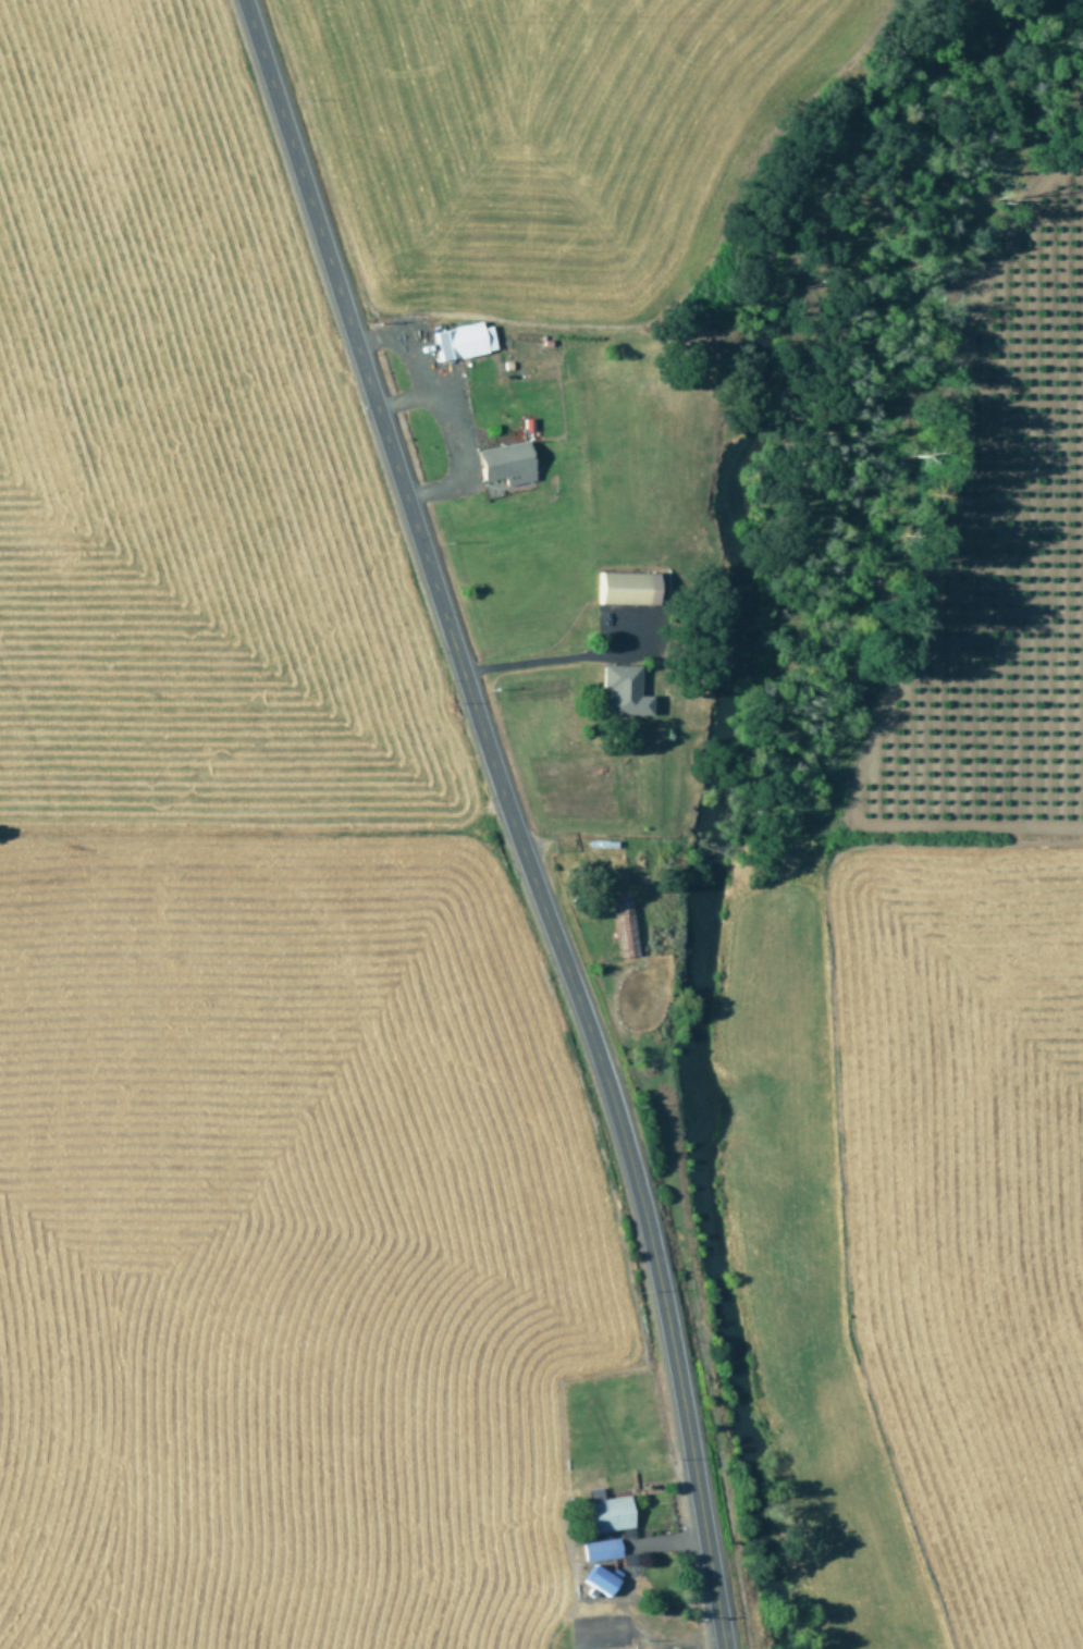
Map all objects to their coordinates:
building: (463, 341)
building: (627, 588)
building: (623, 691)
road: (513, 816)
building: (624, 930)
crop: (975, 937)
crop: (239, 989)
building: (610, 1513)
building: (600, 1549)
building: (599, 1579)

